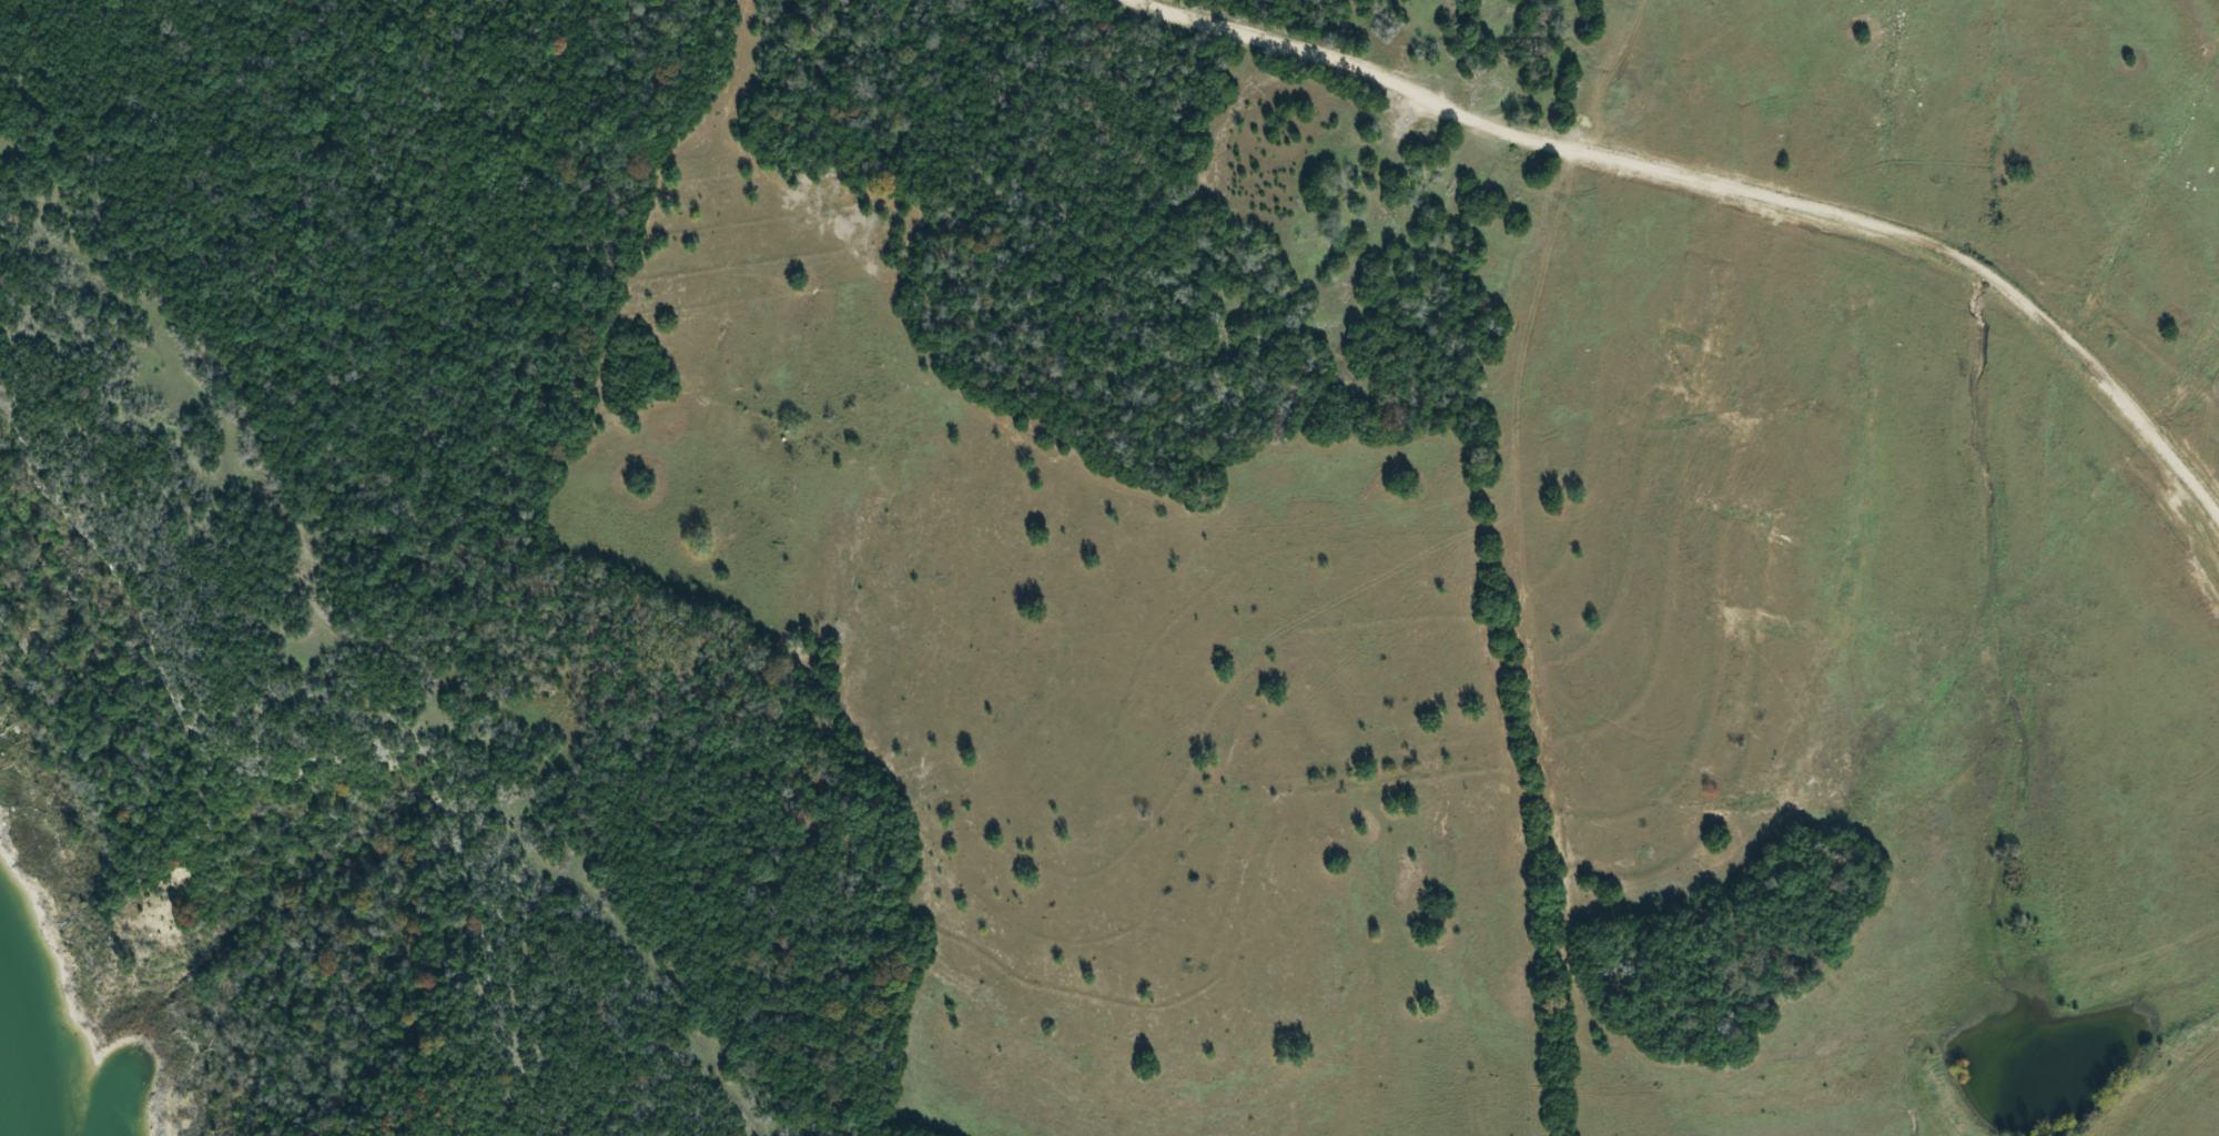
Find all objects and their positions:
road: (1734, 184)

